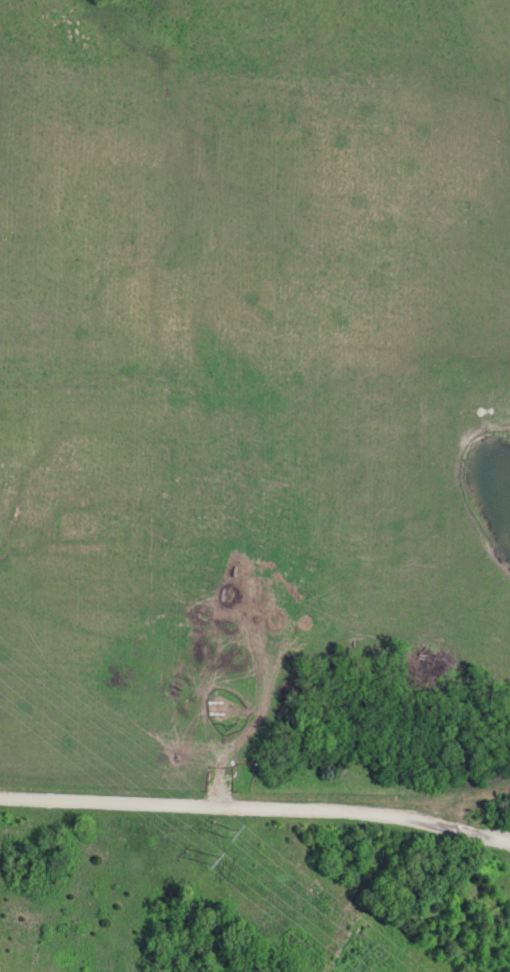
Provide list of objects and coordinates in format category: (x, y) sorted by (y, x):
road: (256, 809)
power tower: (220, 830)
power tower: (202, 856)

